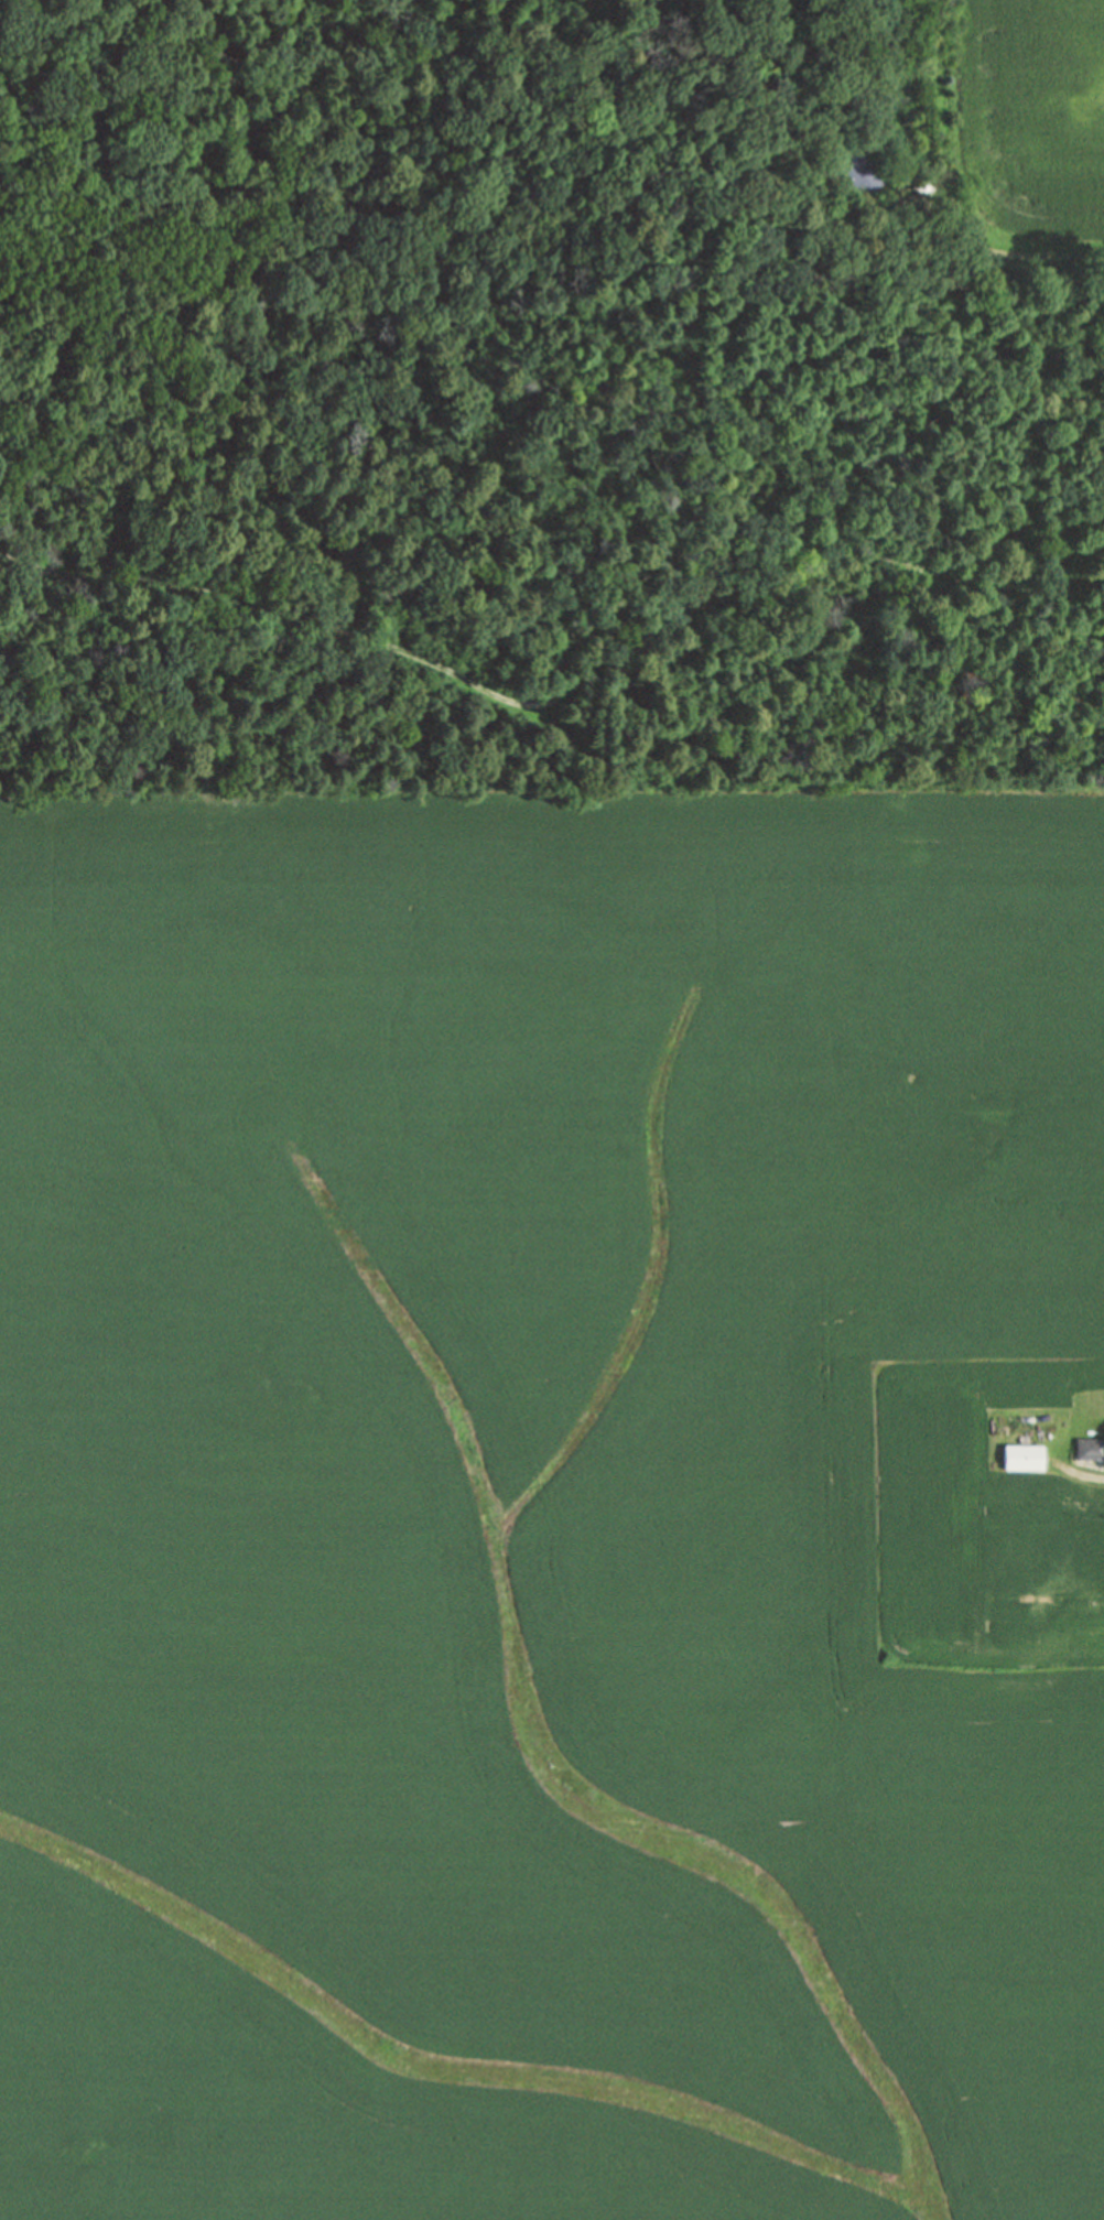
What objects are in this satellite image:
road: (78, 52)
road: (975, 247)
road: (558, 694)
building: (1089, 1449)
building: (1022, 1458)
road: (1083, 1474)

